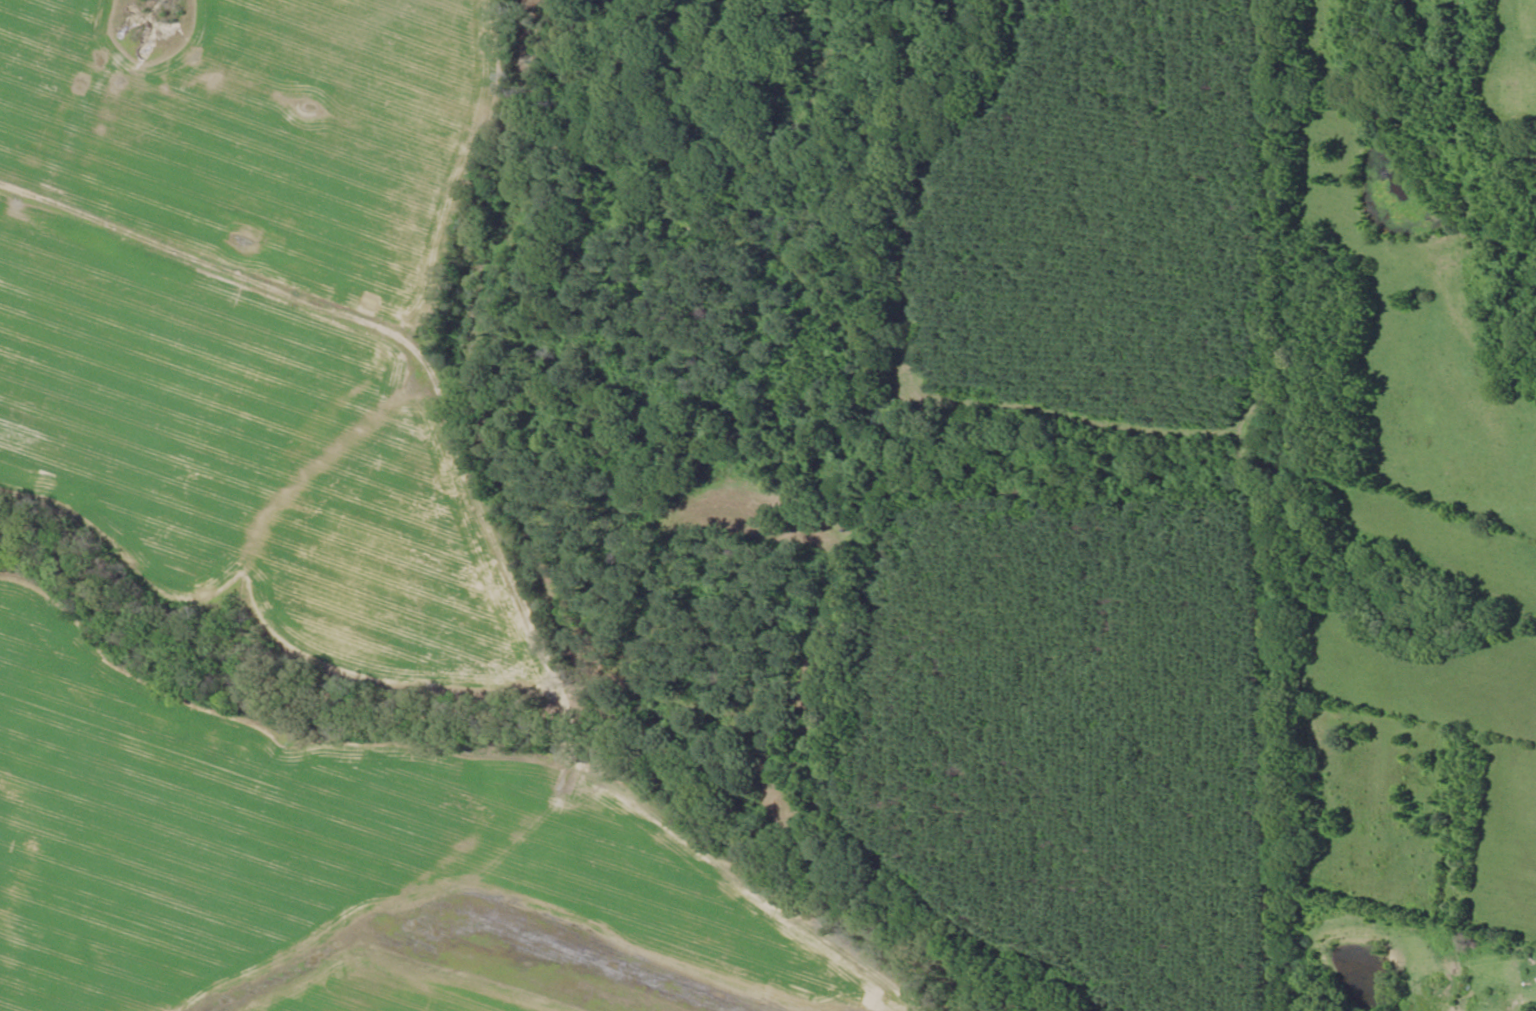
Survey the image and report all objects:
road: (1288, 607)

